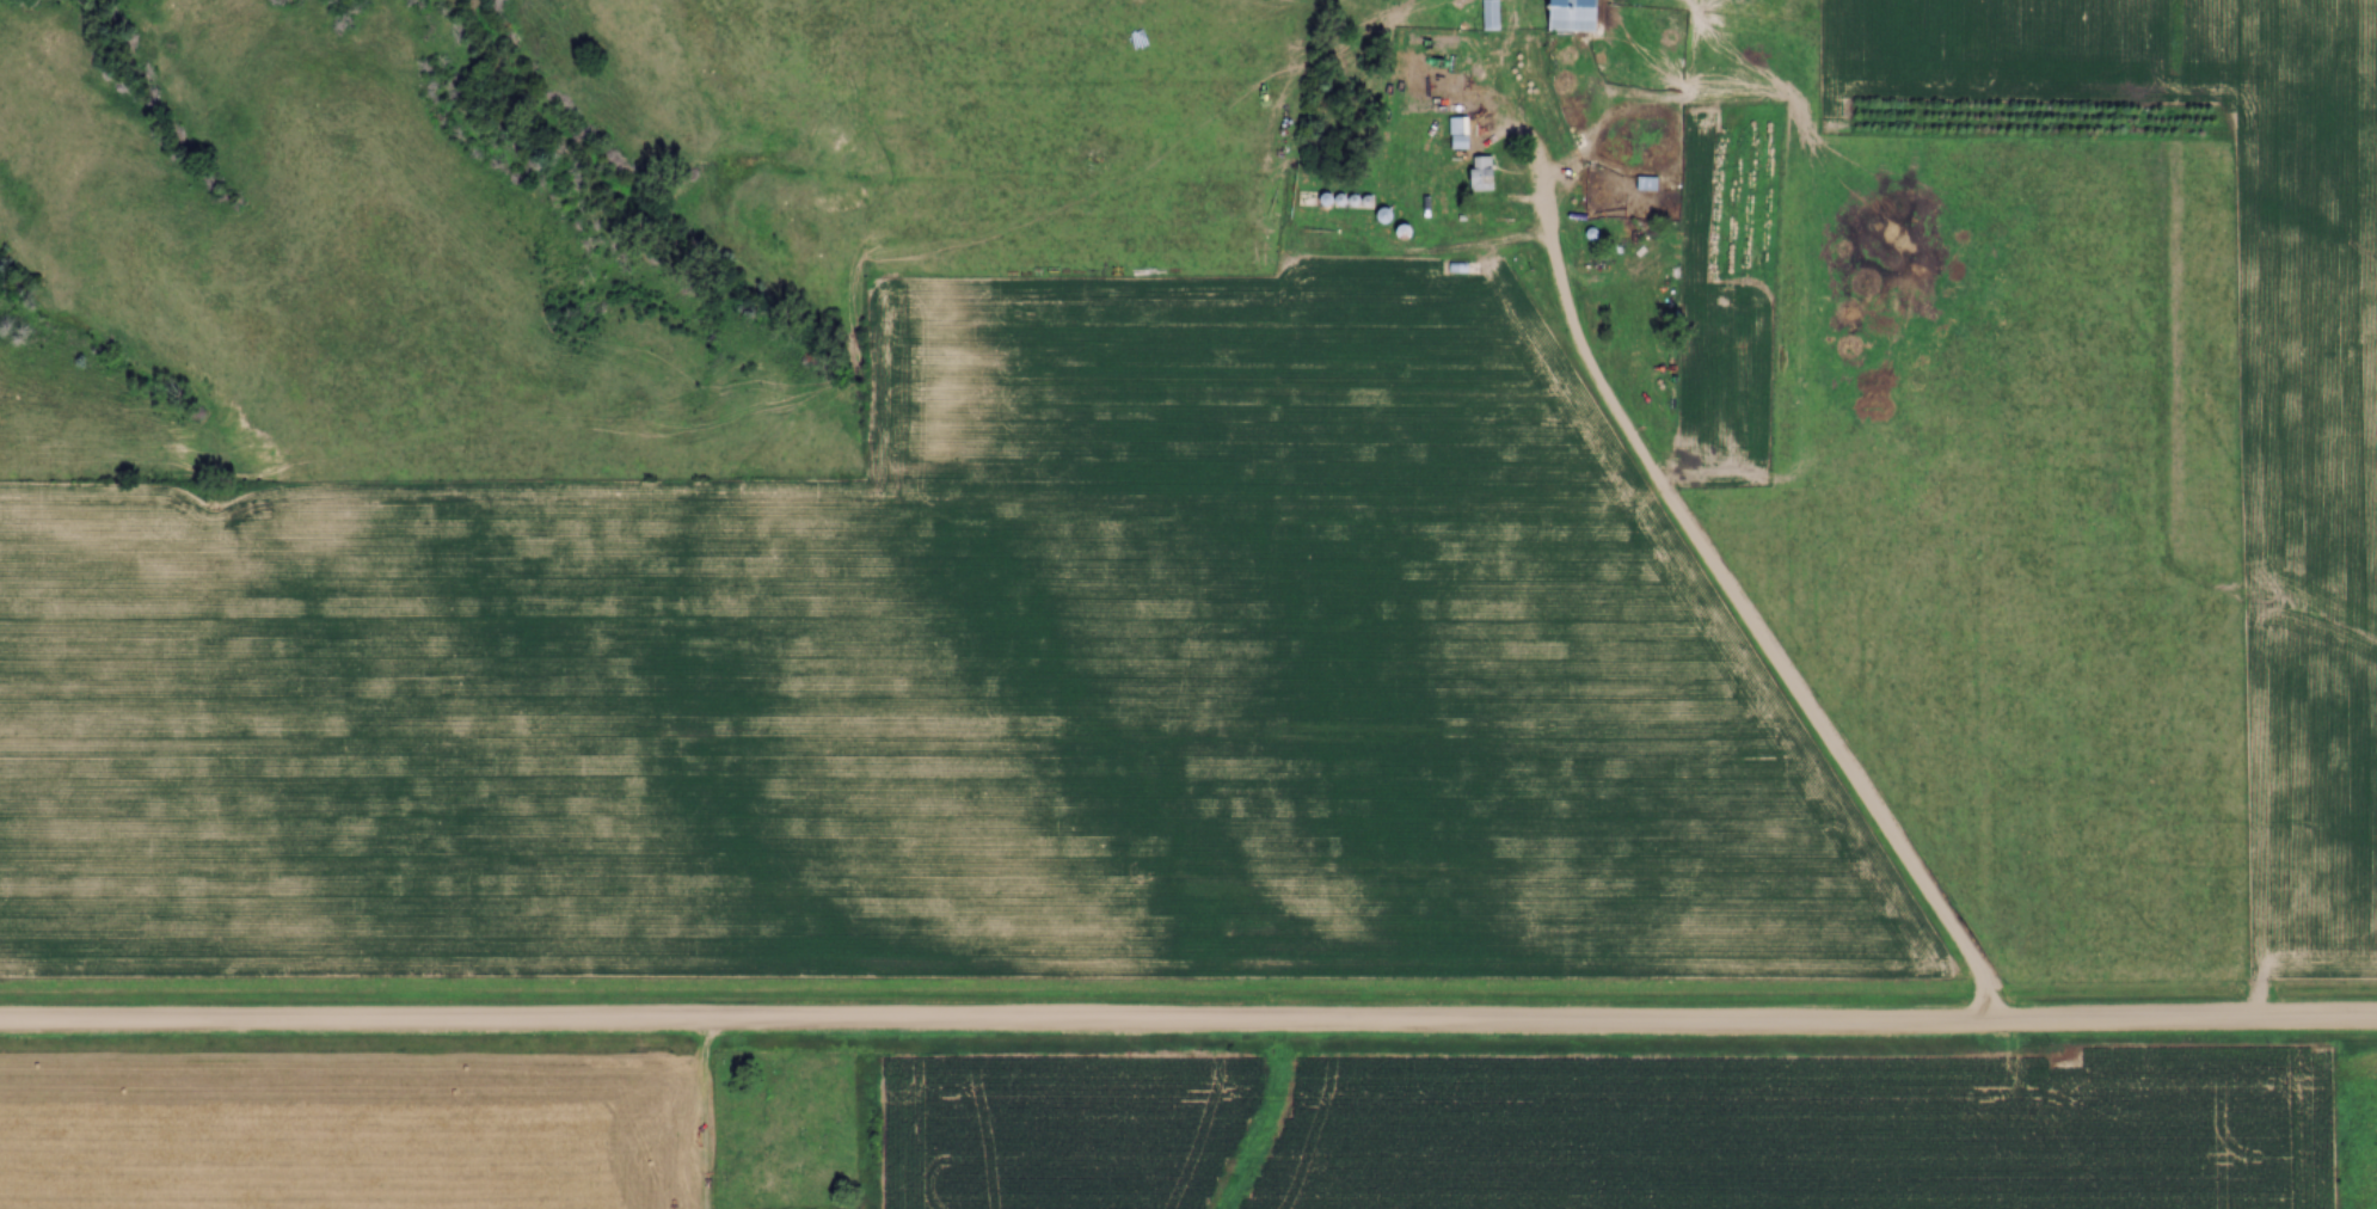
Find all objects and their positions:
building: (1492, 14)
building: (1576, 16)
building: (1523, 85)
building: (1460, 131)
building: (1482, 173)
road: (1718, 582)
road: (1188, 1025)

